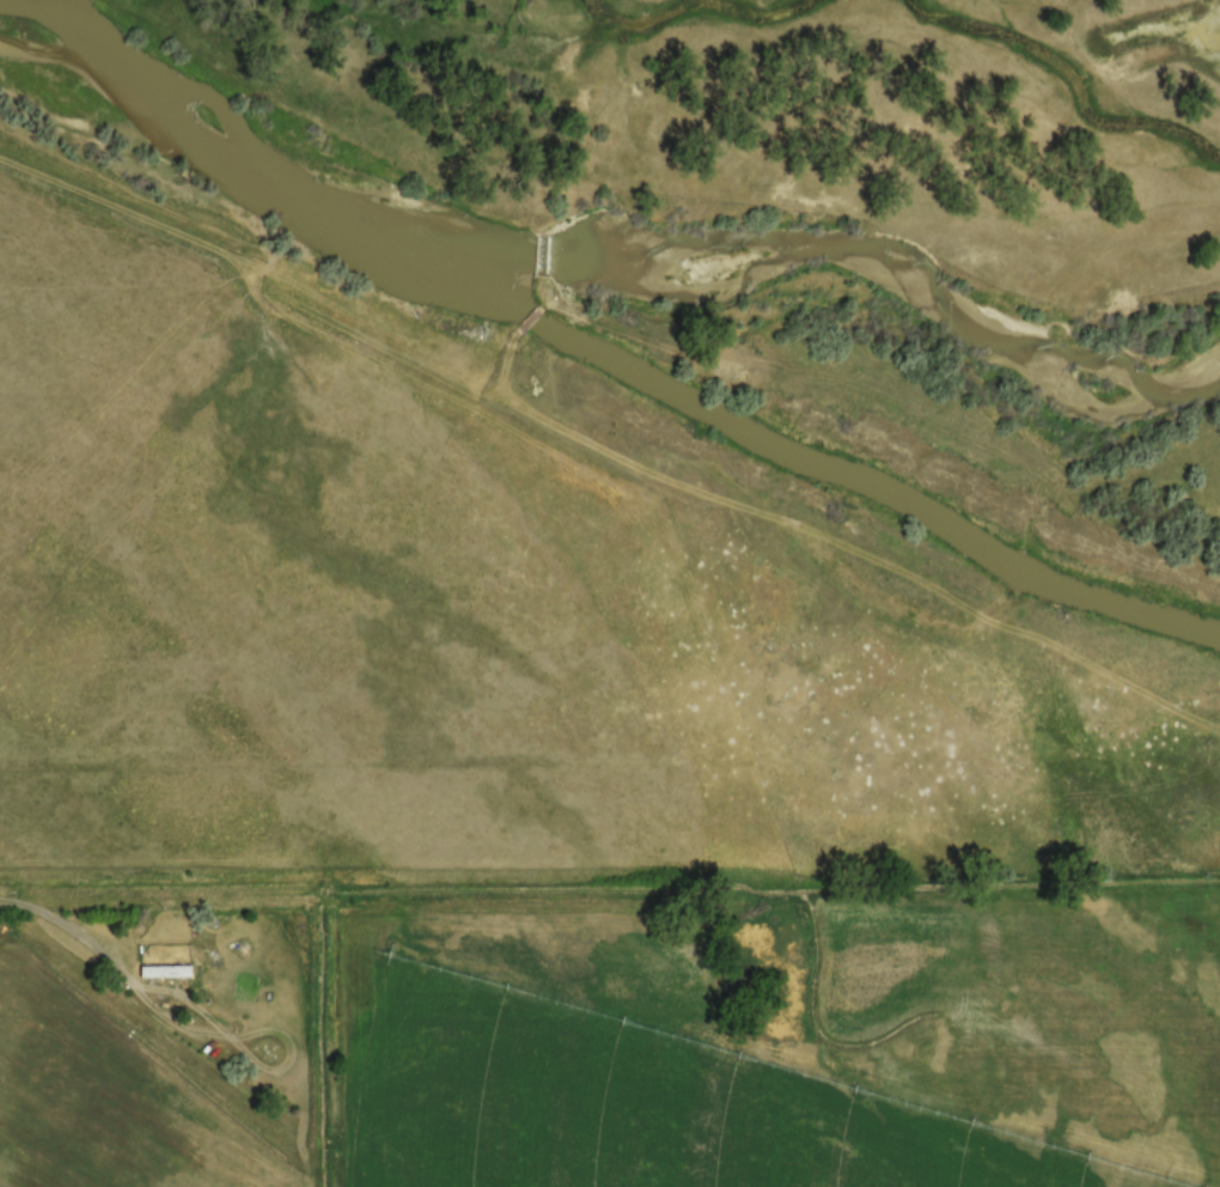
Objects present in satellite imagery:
river: (615, 244)
road: (72, 930)
building: (164, 969)

